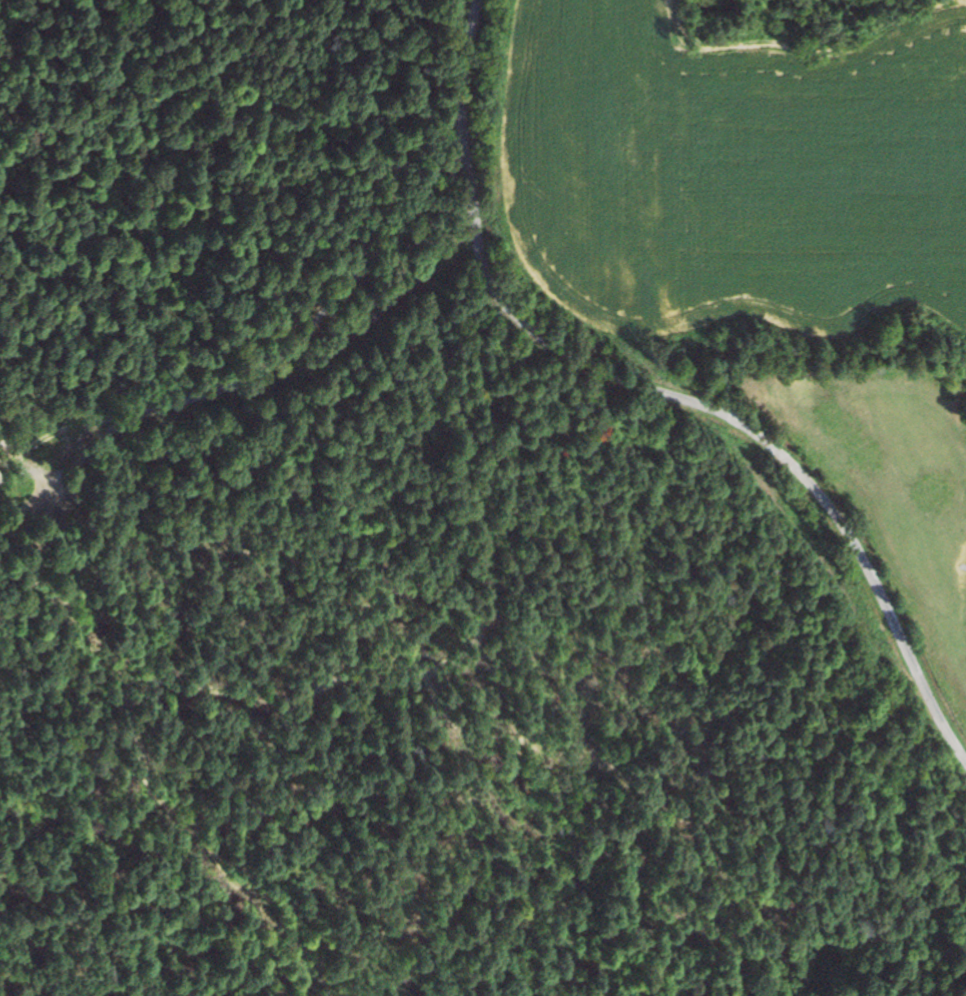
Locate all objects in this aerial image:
road: (663, 390)

